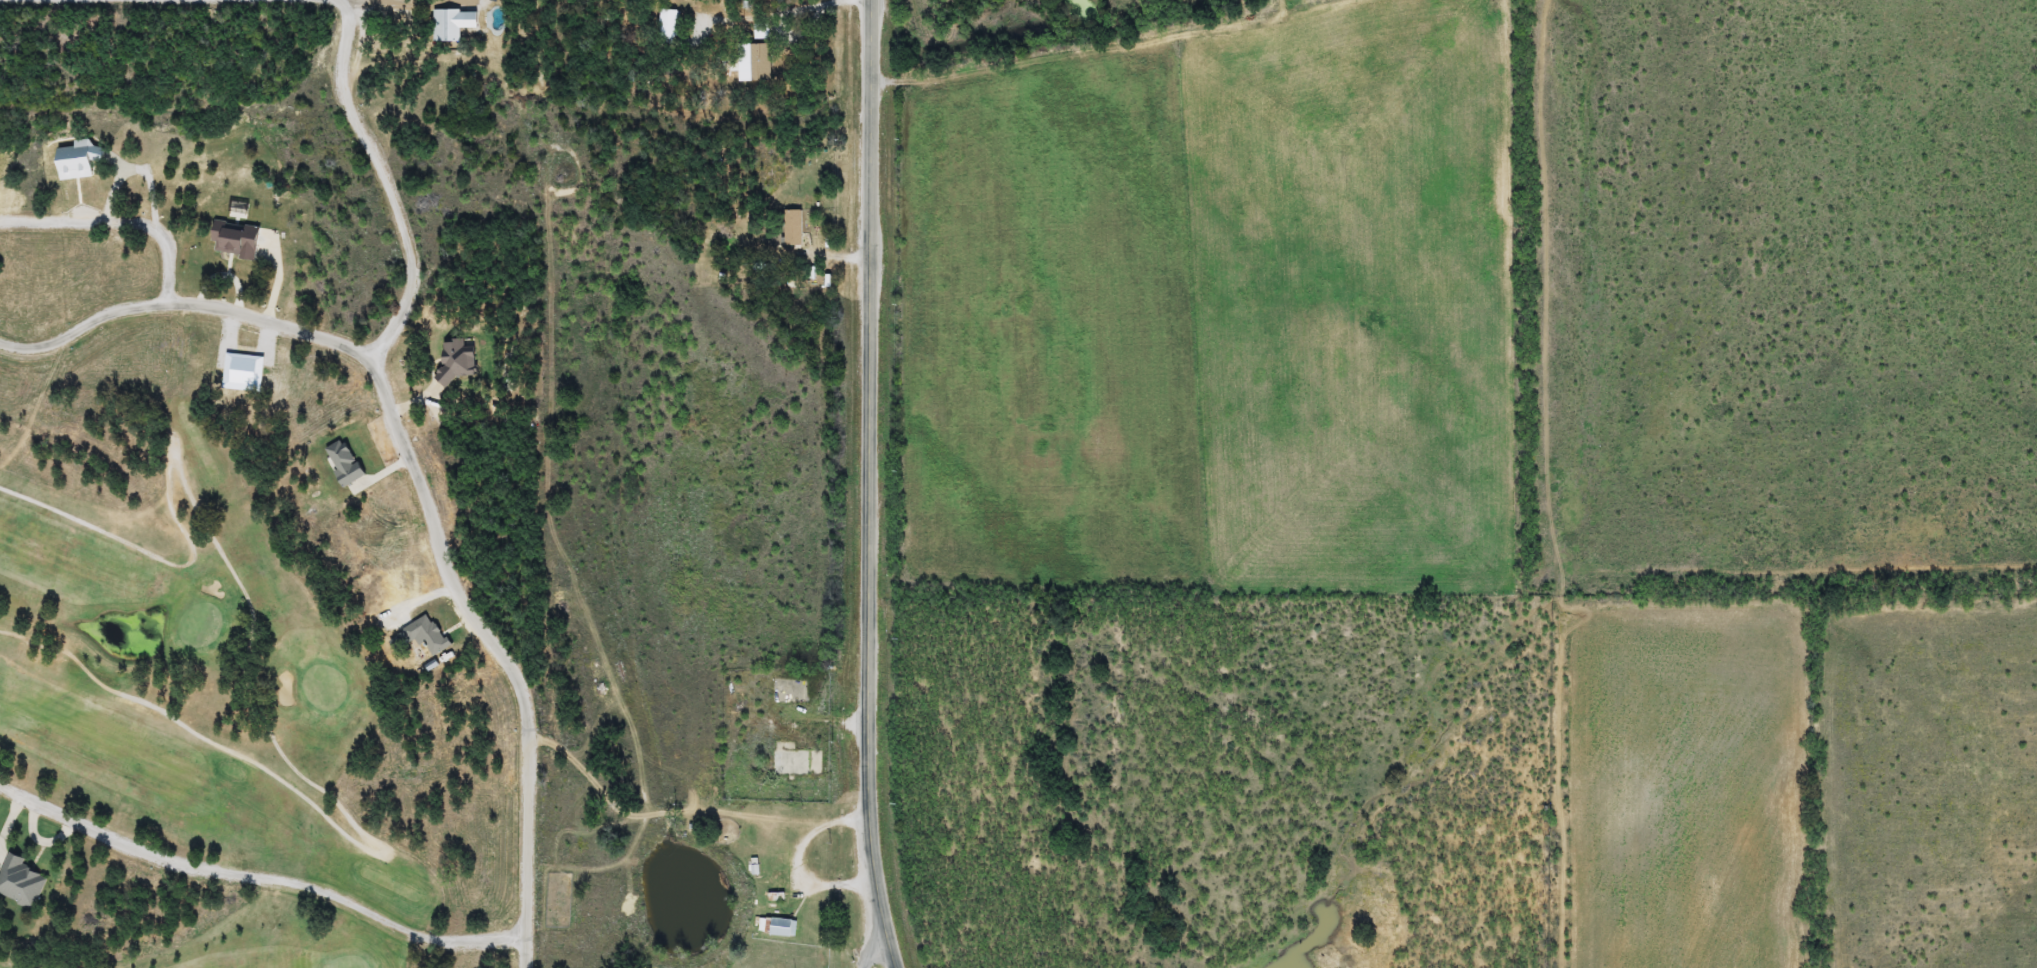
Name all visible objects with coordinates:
building: (670, 25)
building: (763, 32)
building: (751, 62)
road: (386, 177)
road: (116, 219)
building: (795, 228)
road: (418, 471)
road: (871, 485)
building: (800, 764)
road: (262, 871)
building: (780, 889)
building: (782, 928)
road: (871, 943)

